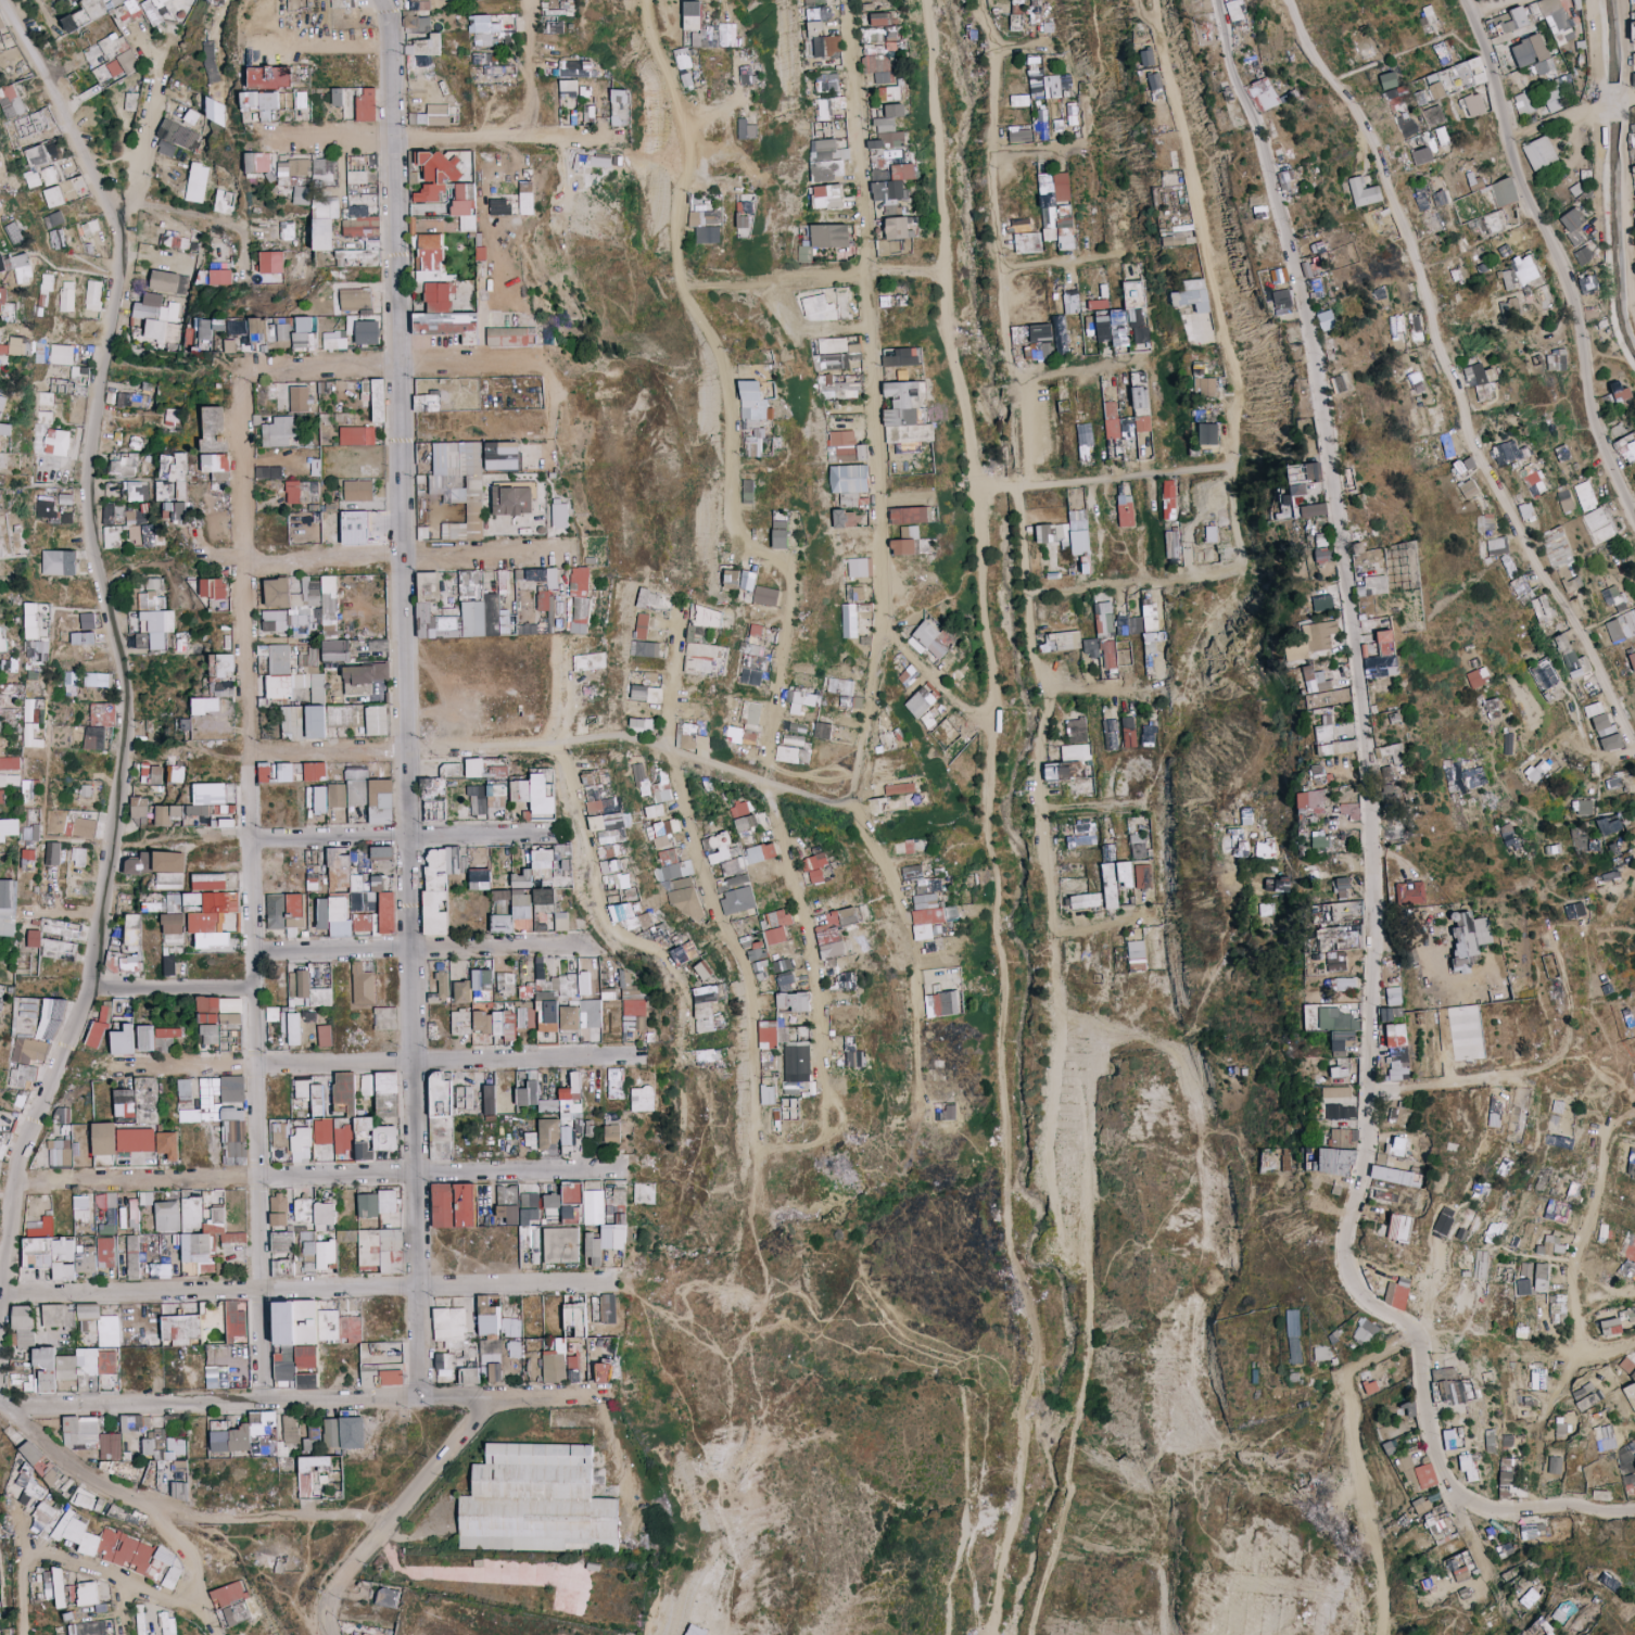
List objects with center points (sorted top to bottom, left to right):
park: (1484, 0)

